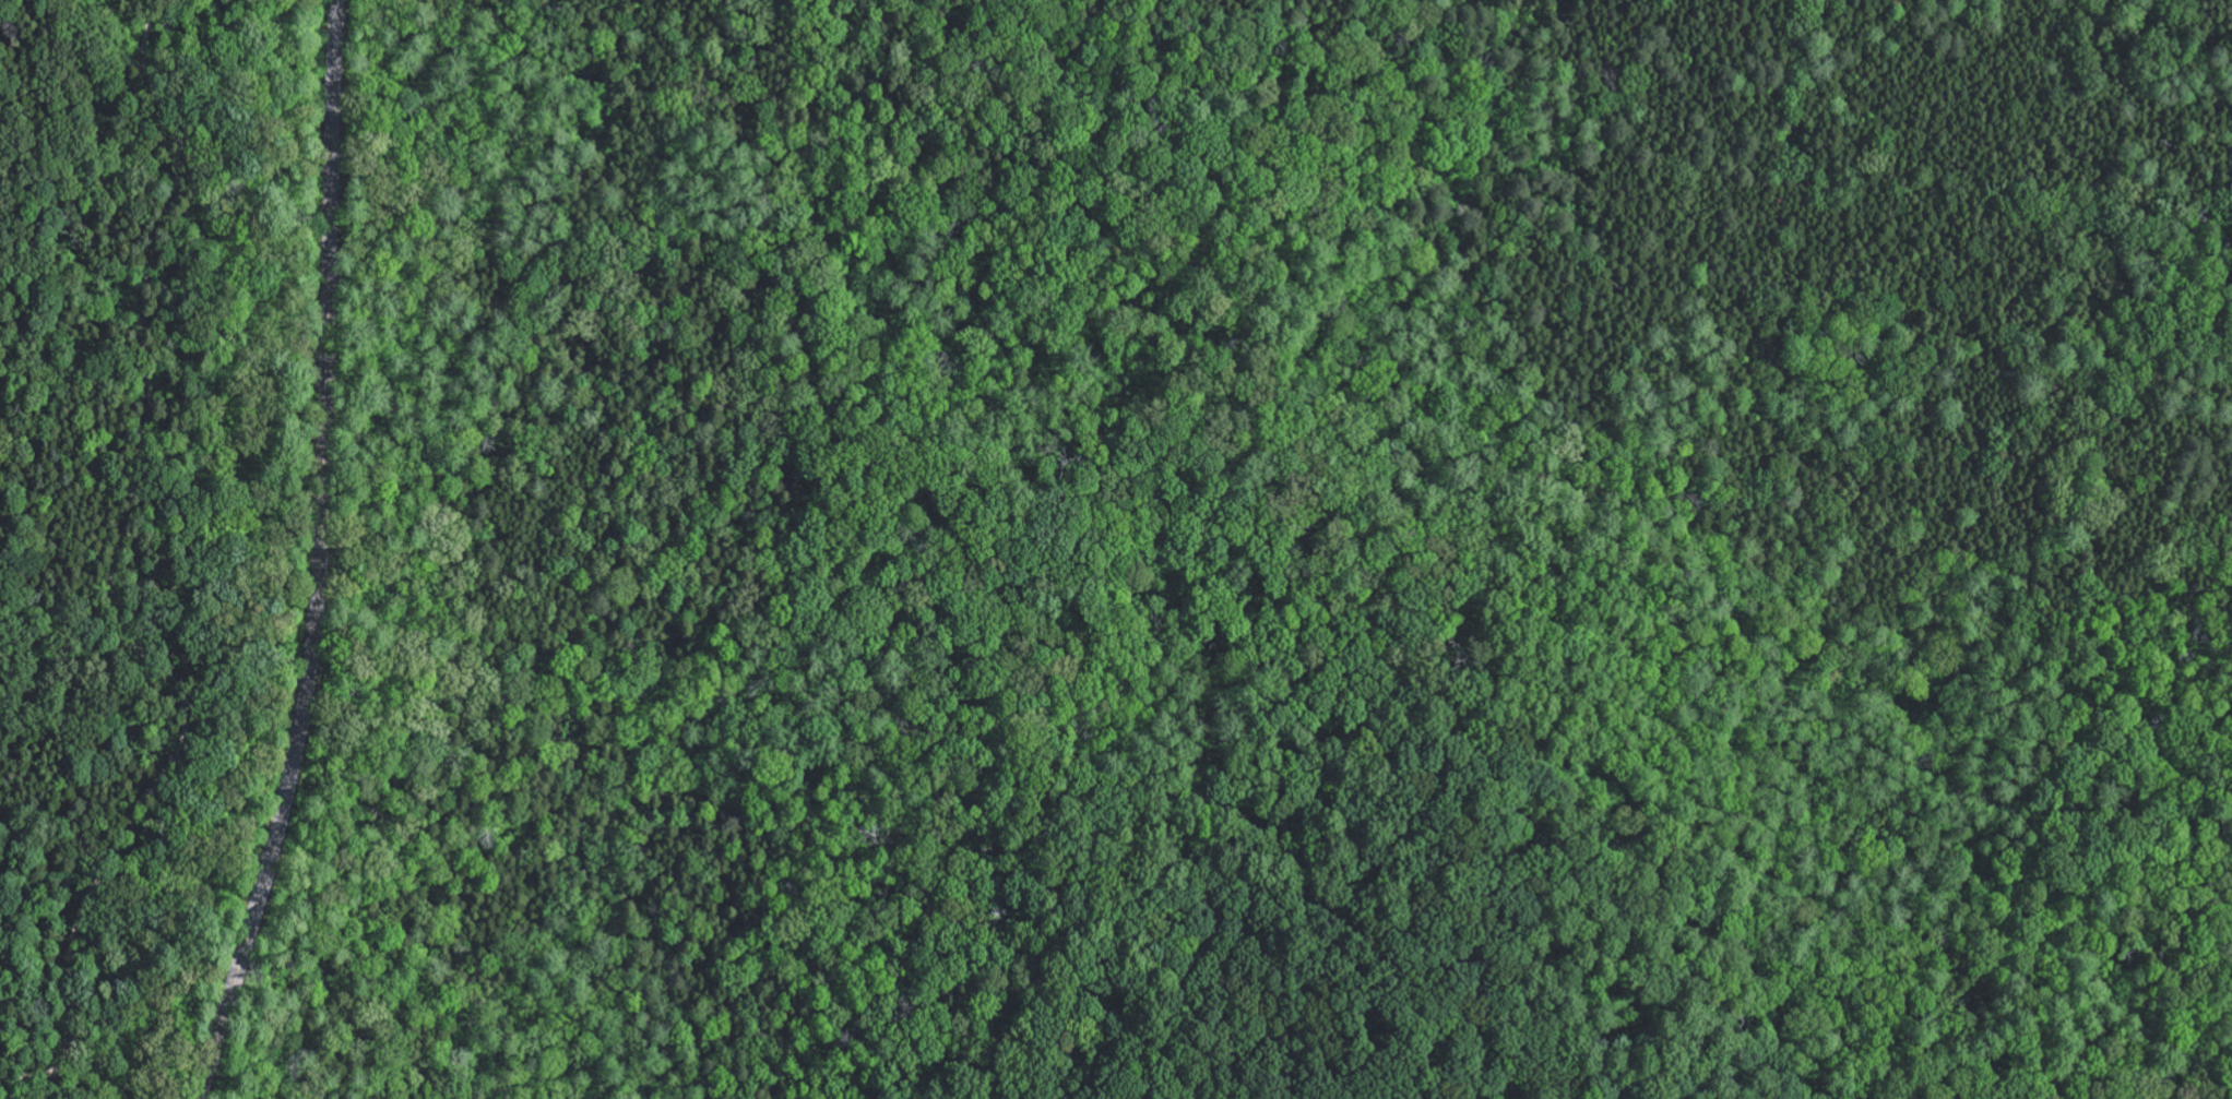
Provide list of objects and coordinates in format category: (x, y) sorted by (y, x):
road: (333, 118)
road: (115, 577)
road: (307, 674)

